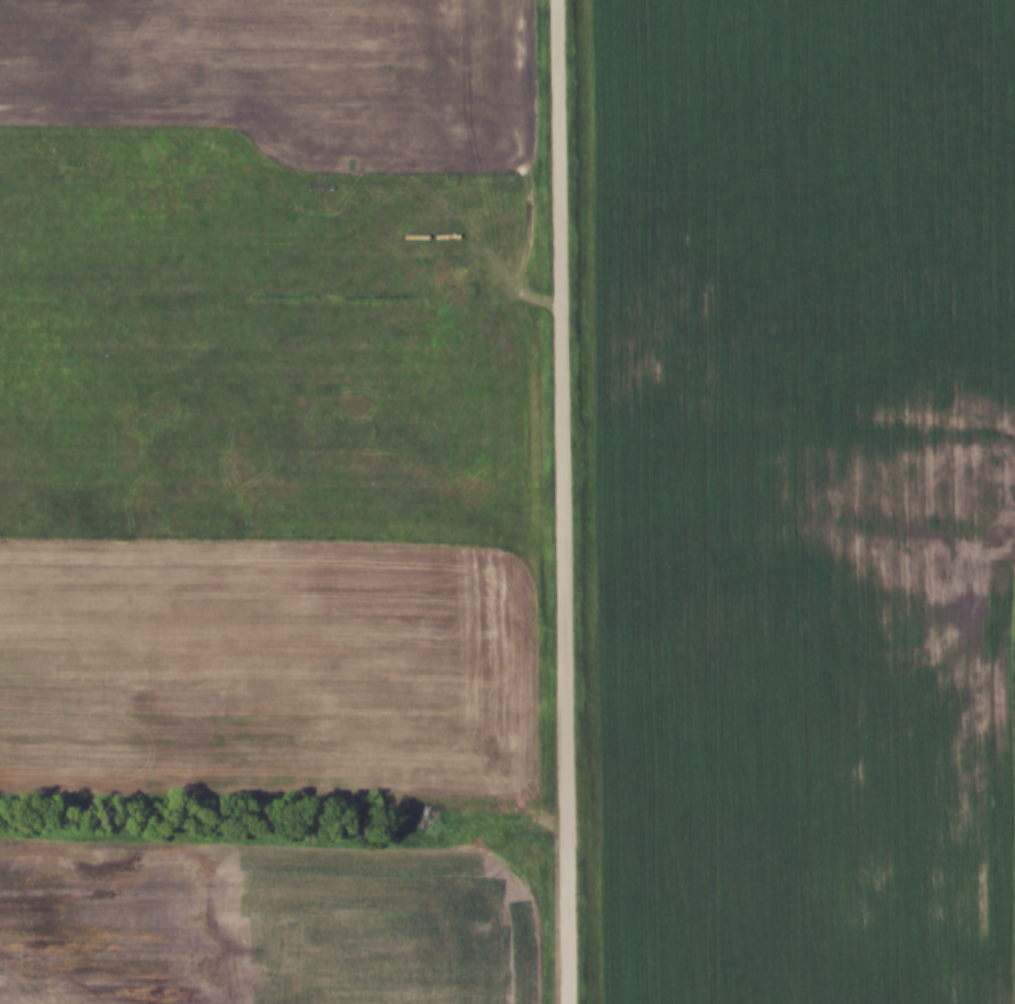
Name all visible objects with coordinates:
road: (562, 501)

